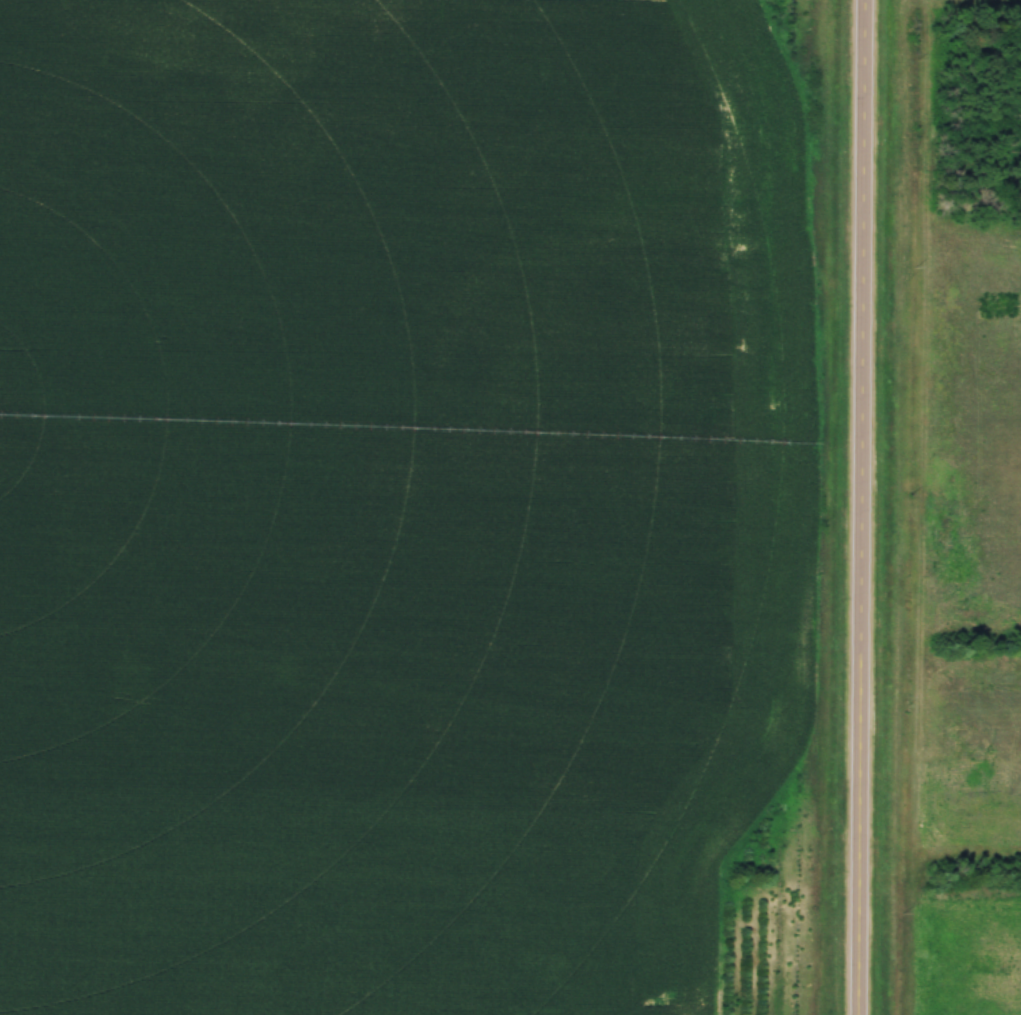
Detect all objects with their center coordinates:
road: (862, 507)

